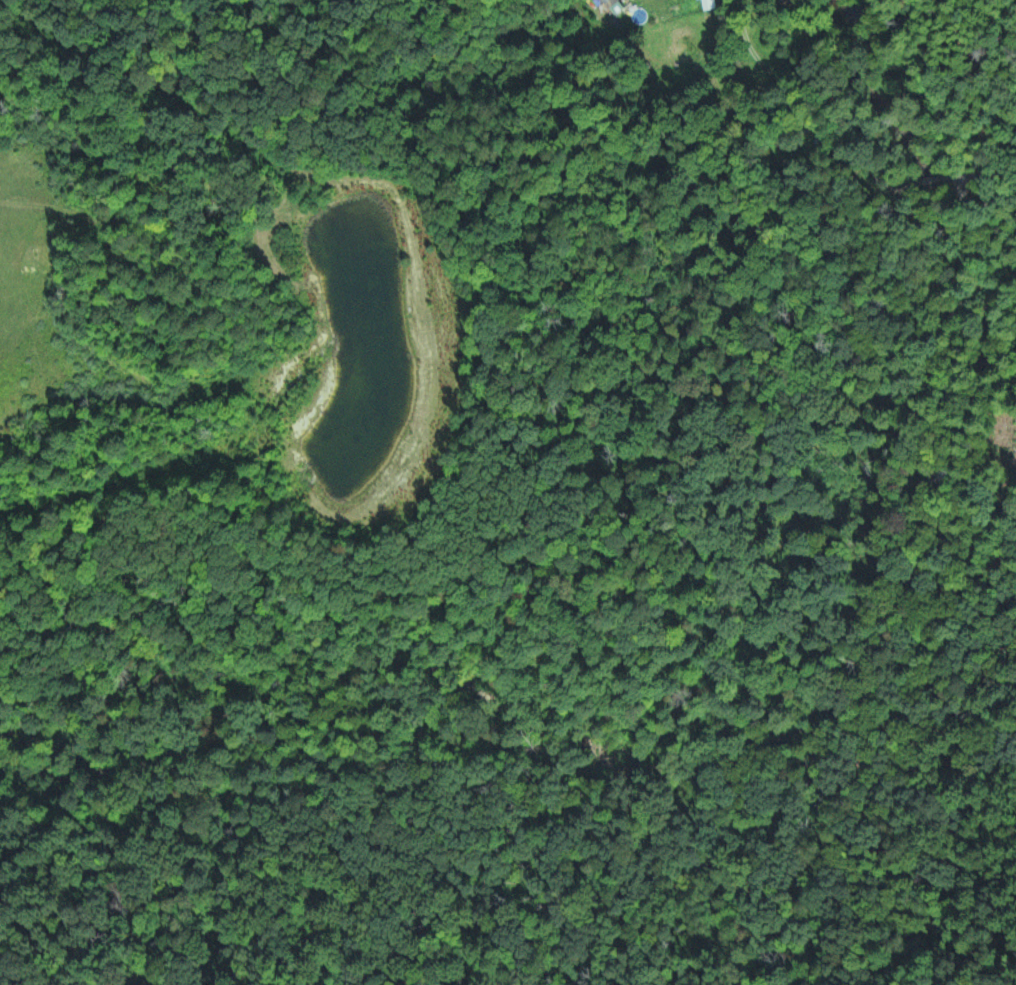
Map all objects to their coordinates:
building: (604, 2)
building: (709, 5)
road: (919, 179)
road: (983, 244)
road: (947, 528)

